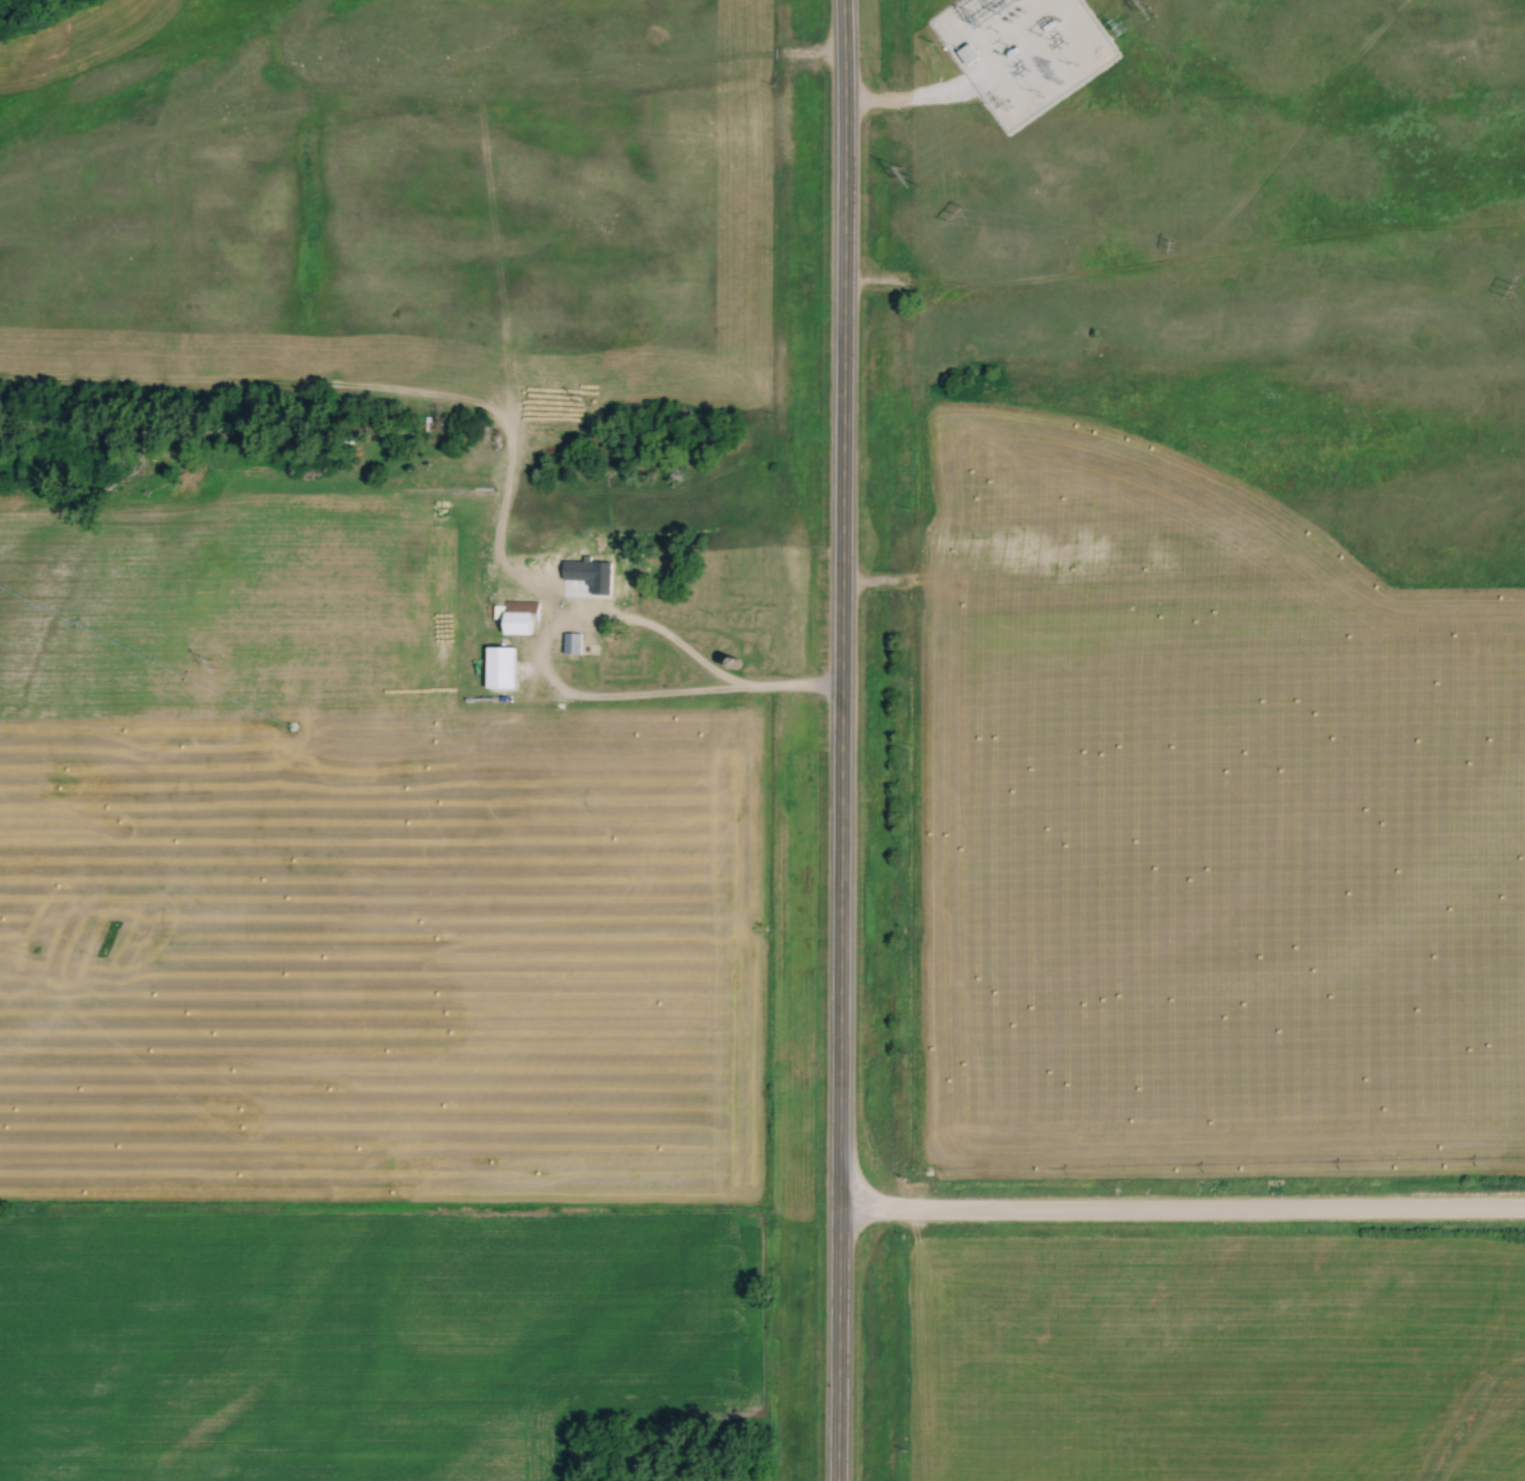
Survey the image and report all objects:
power tower: (1144, 7)
power tower: (1114, 28)
power substation: (1019, 51)
power tower: (1051, 72)
road: (905, 97)
power tower: (1003, 105)
power tower: (905, 176)
power tower: (583, 402)
building: (597, 587)
building: (521, 618)
building: (572, 643)
road: (538, 660)
power tower: (209, 665)
building: (499, 667)
road: (785, 693)
road: (838, 740)
building: (569, 823)
road: (1180, 1215)

